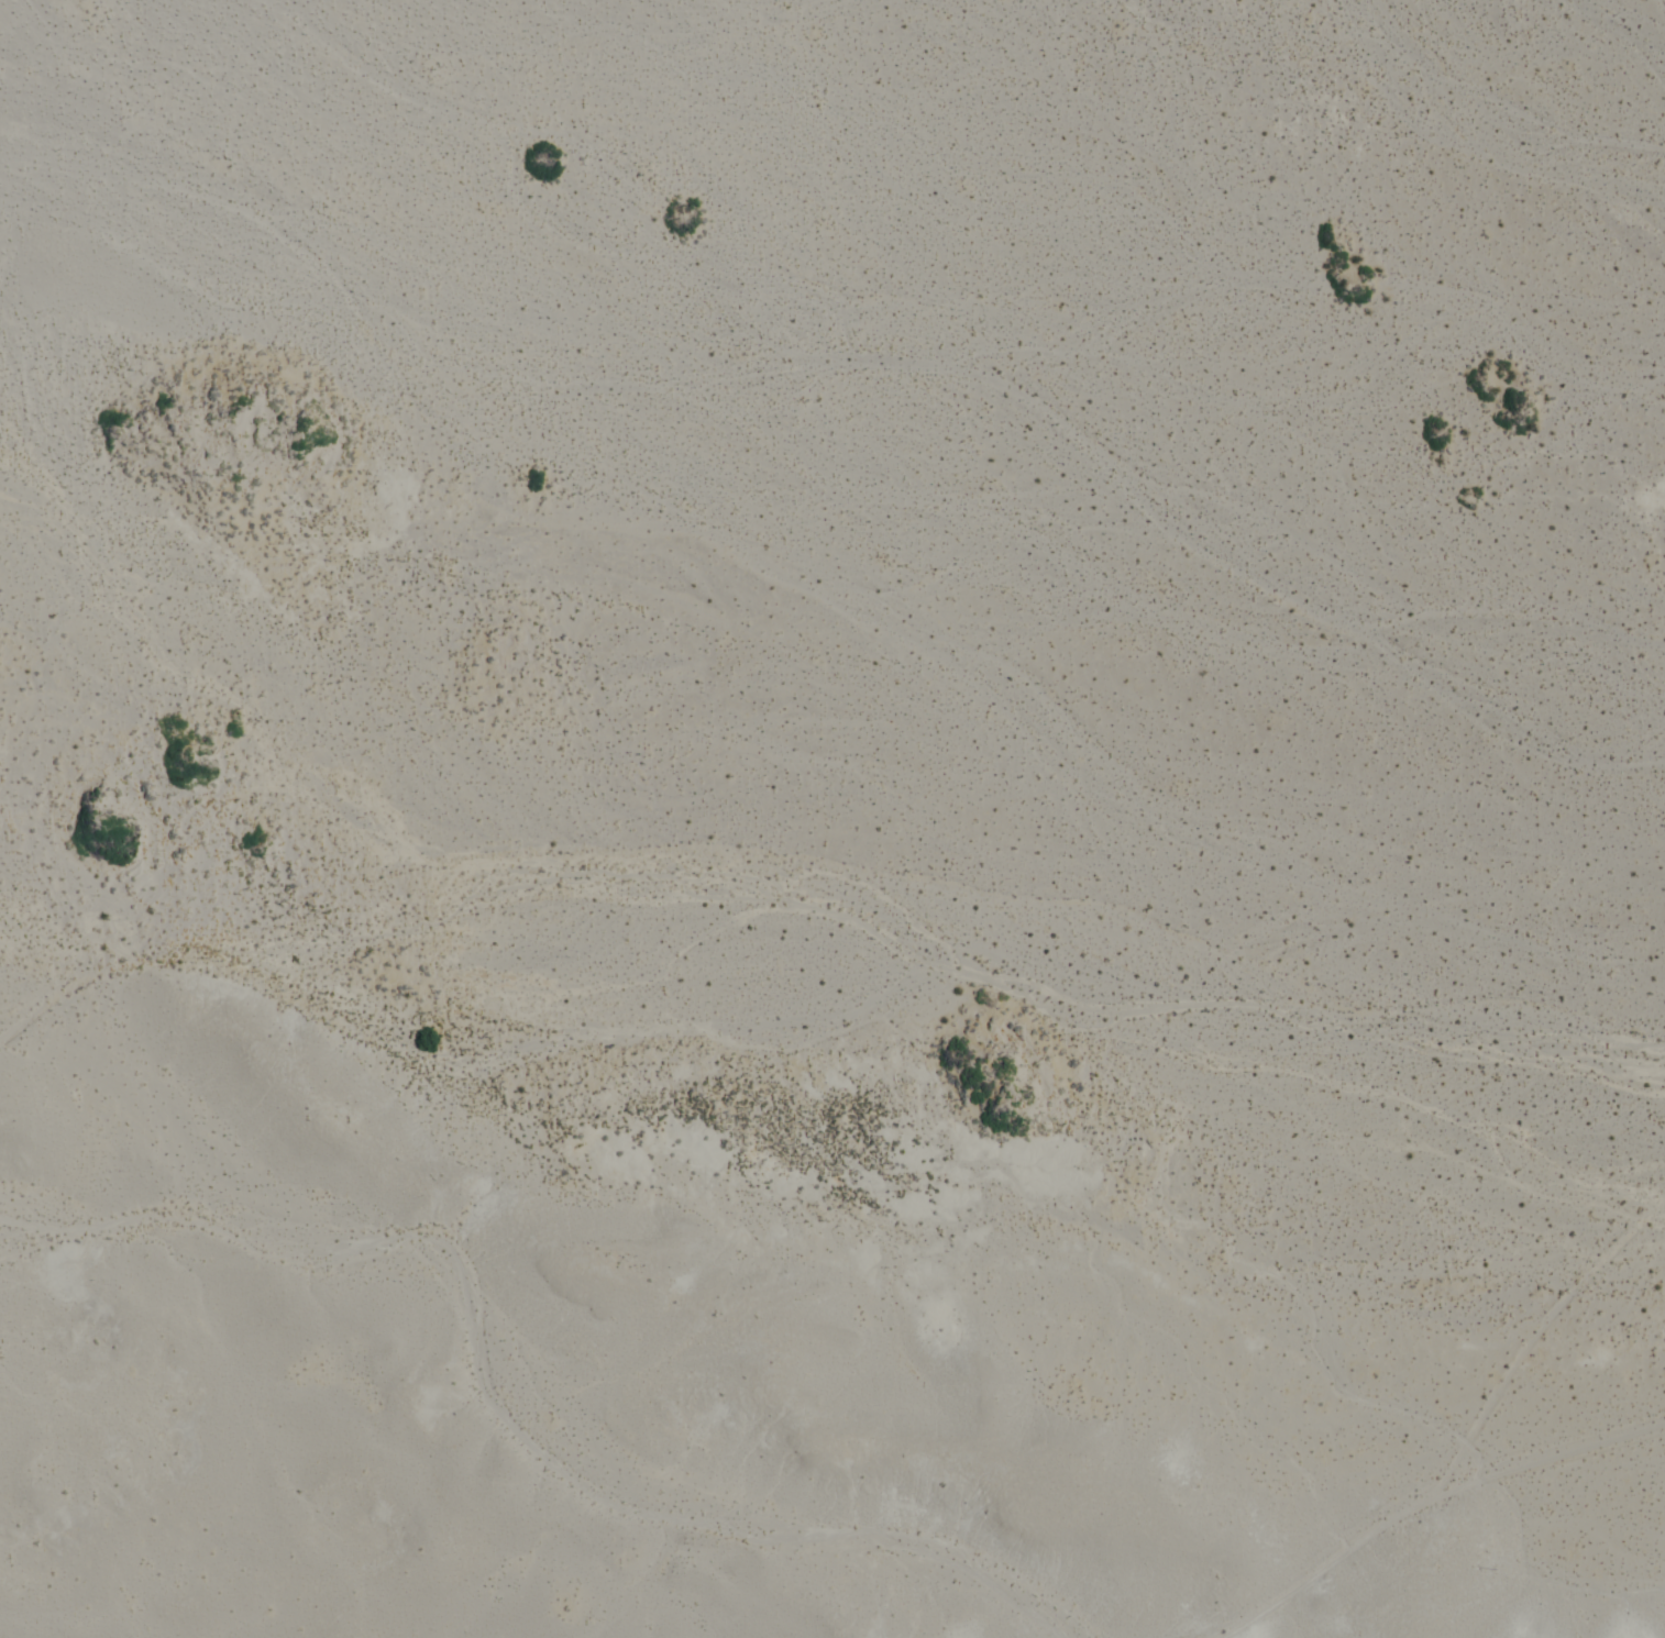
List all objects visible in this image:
road: (1423, 1497)

